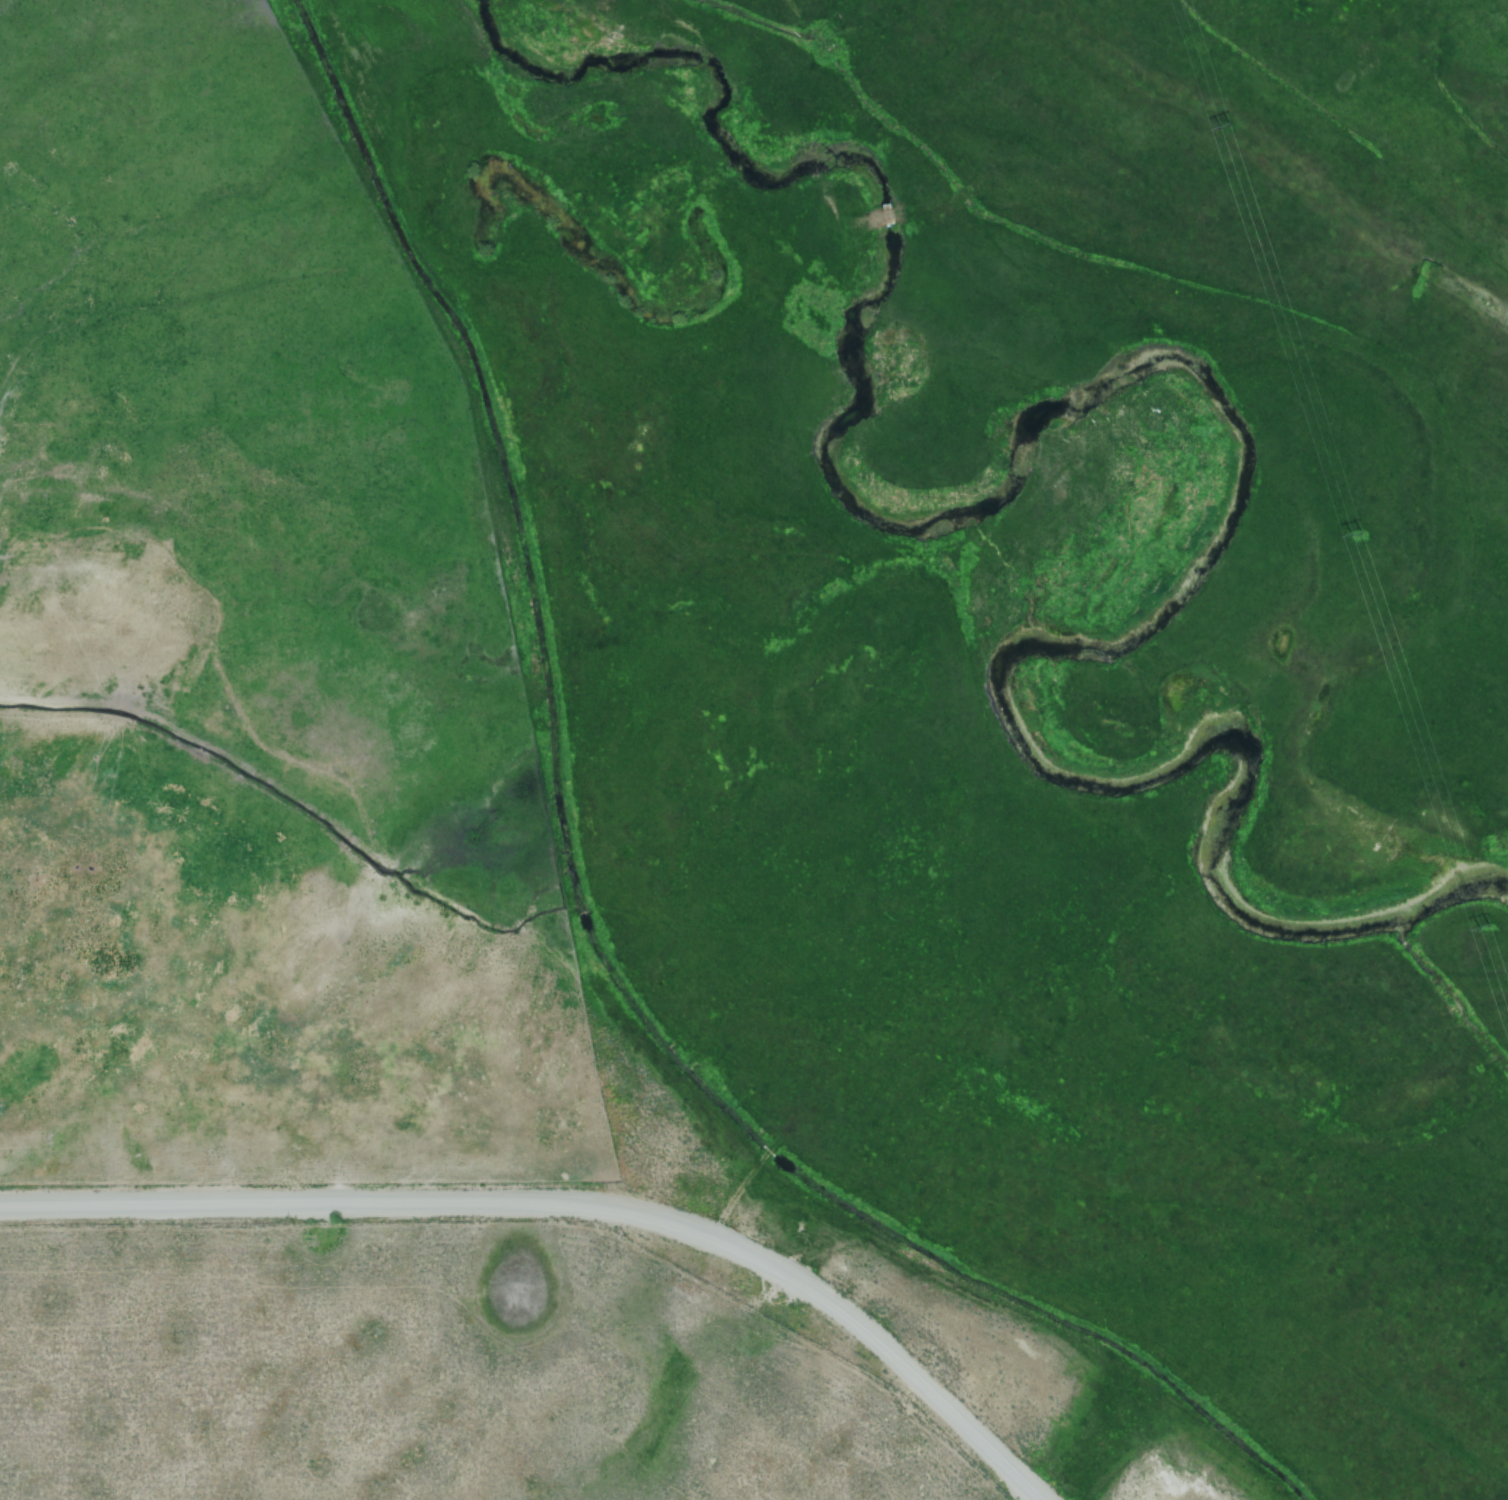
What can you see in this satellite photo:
power tower: (1213, 132)
river: (1197, 369)
power tower: (1347, 538)
power tower: (1475, 933)
road: (540, 1250)

